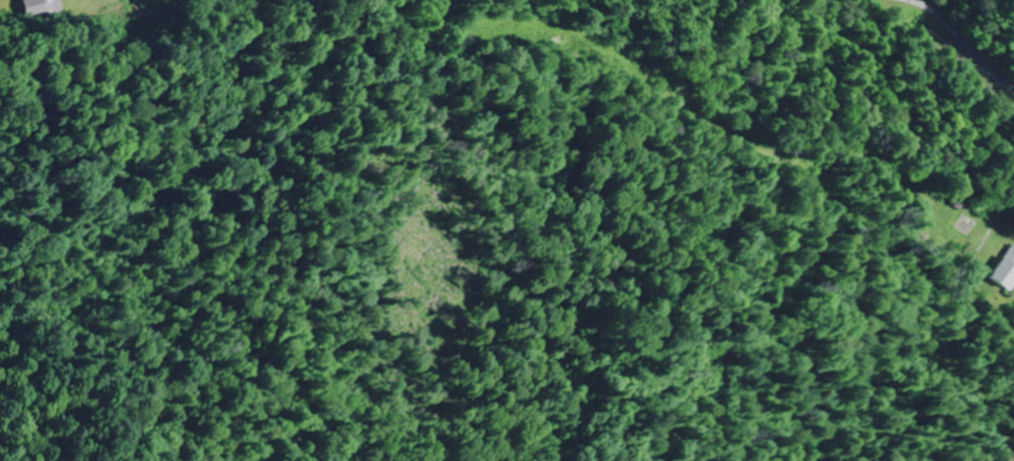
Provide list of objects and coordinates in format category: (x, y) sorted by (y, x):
building: (33, 6)
building: (1006, 270)
road: (1009, 292)

